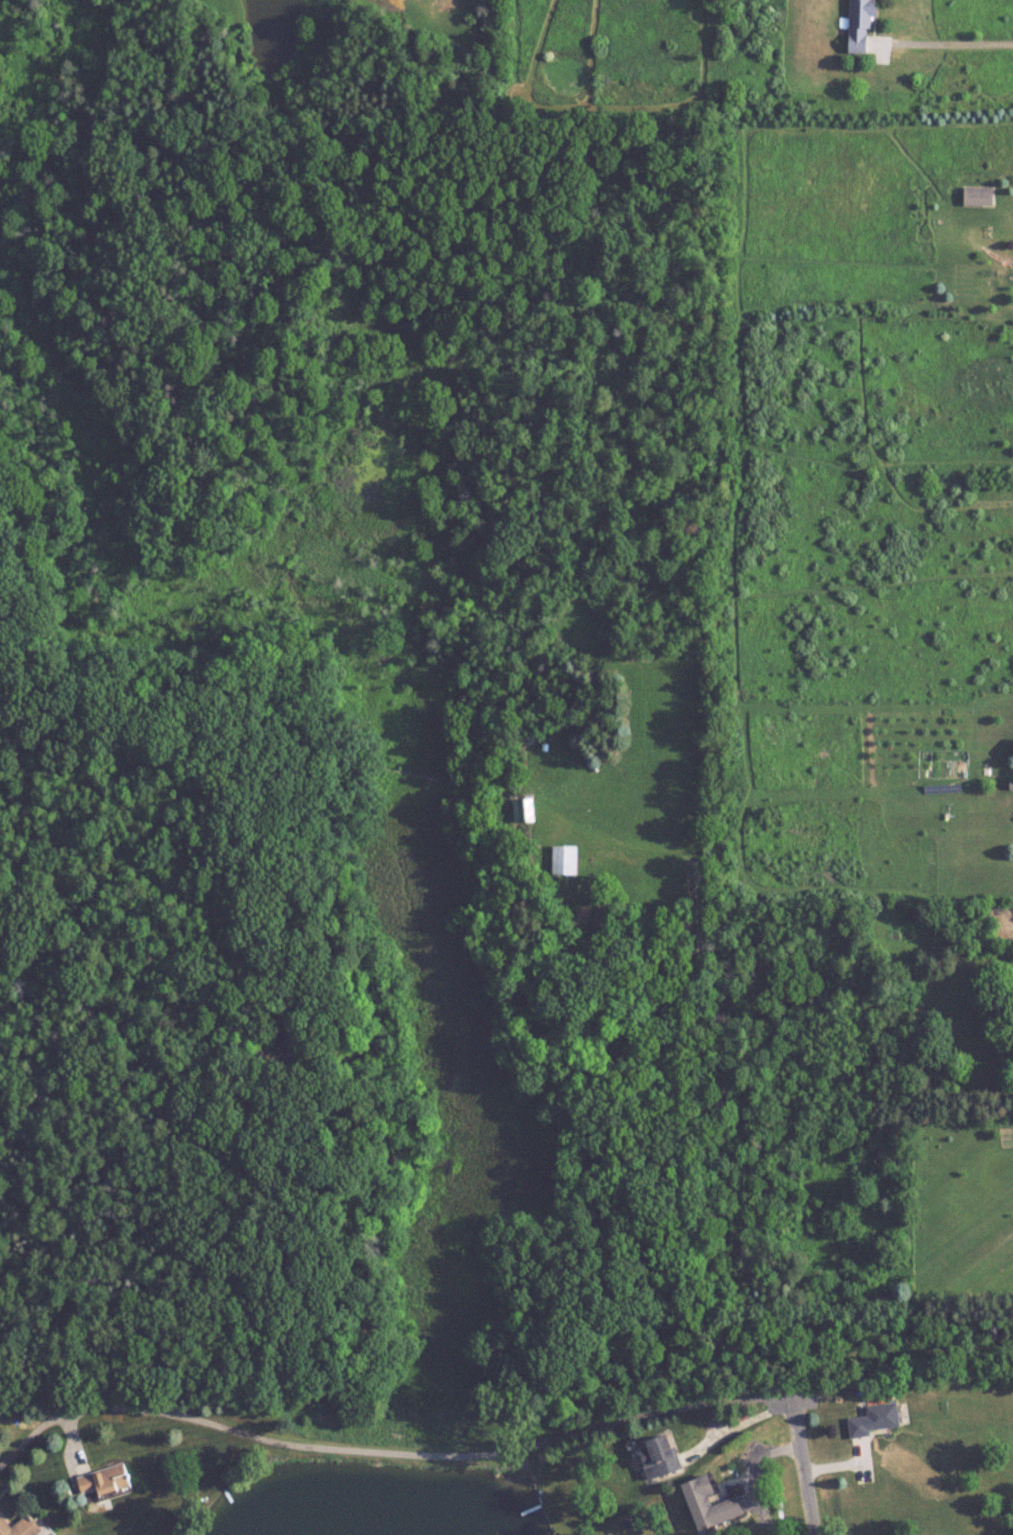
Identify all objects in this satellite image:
building: (864, 24)
road: (952, 41)
building: (977, 195)
building: (565, 859)
building: (877, 1419)
road: (373, 1448)
building: (661, 1456)
road: (799, 1460)
building: (104, 1479)
road: (751, 1494)
building: (711, 1503)
building: (19, 1526)

